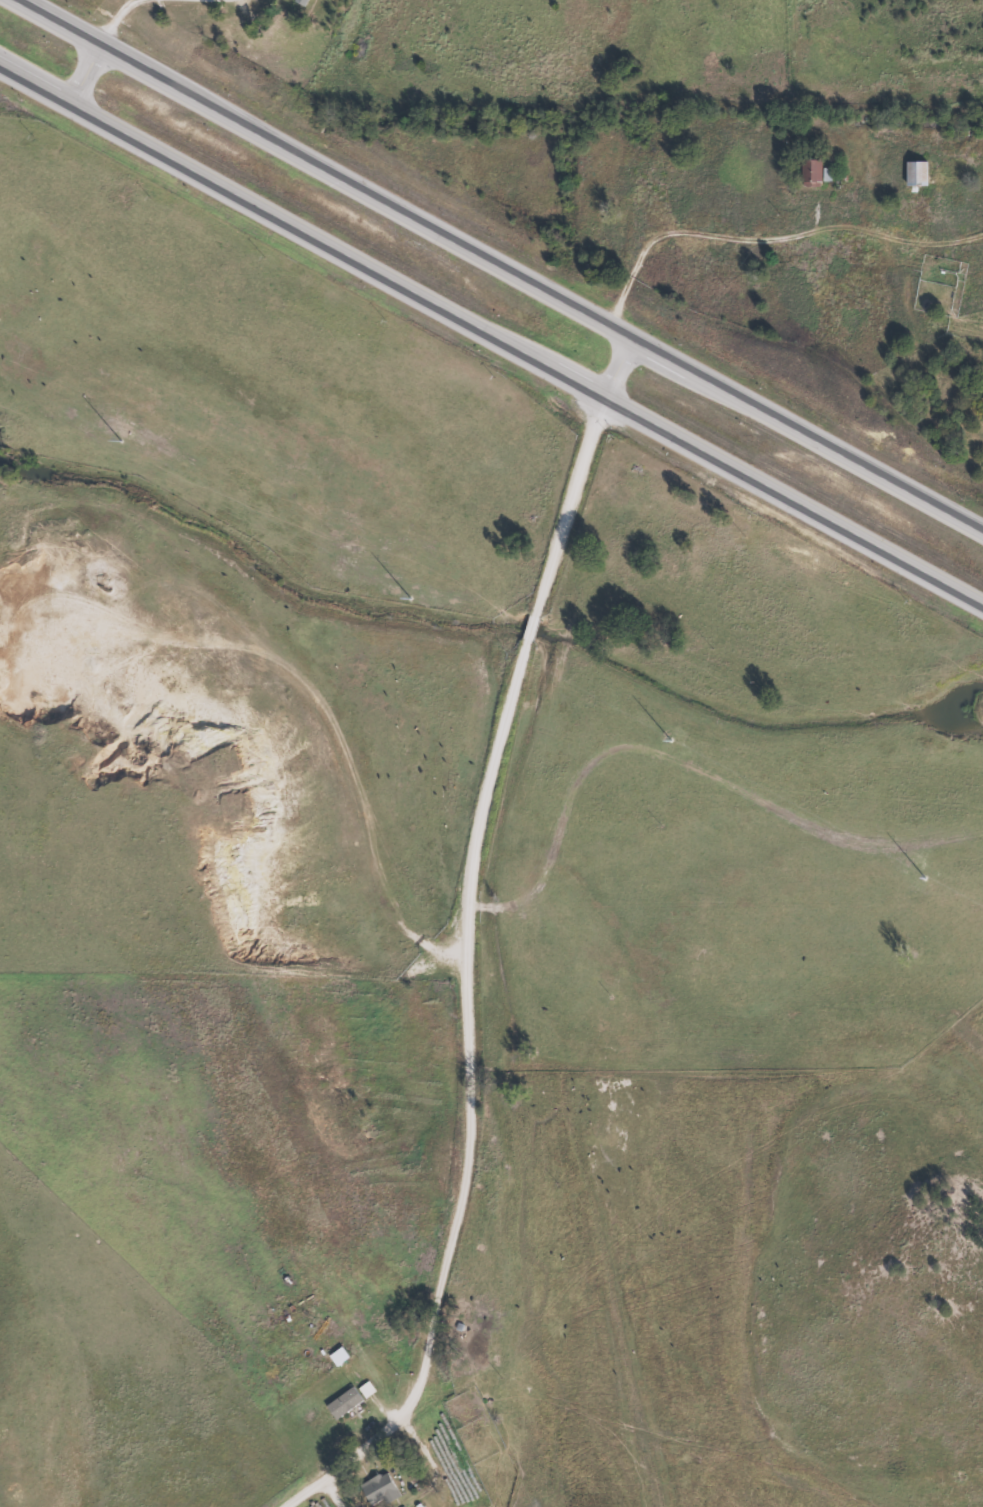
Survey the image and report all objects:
building: (297, 2)
building: (809, 172)
building: (914, 173)
road: (679, 241)
road: (503, 267)
road: (491, 335)
road: (443, 924)
building: (342, 1403)
building: (376, 1490)

